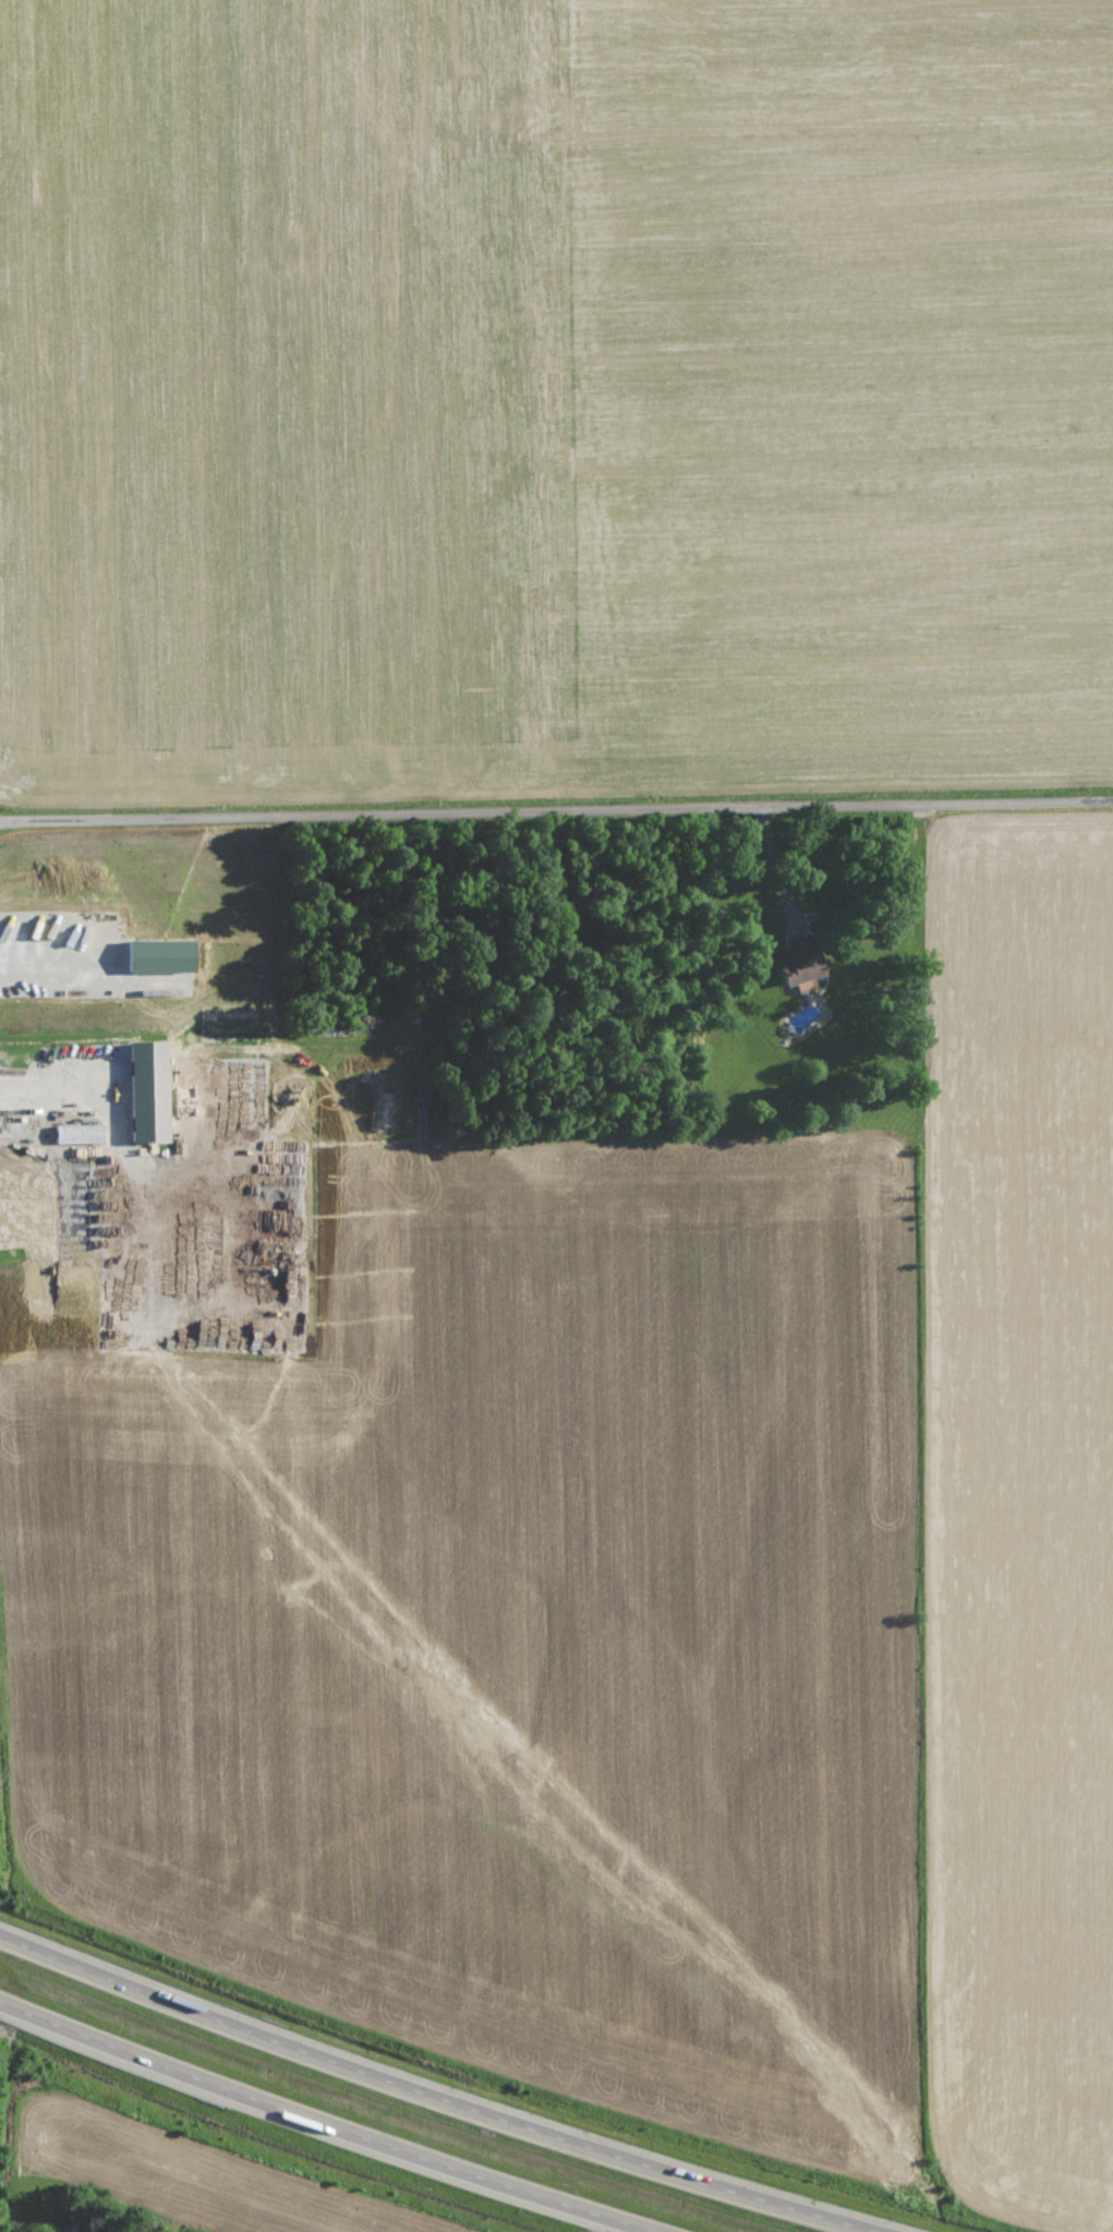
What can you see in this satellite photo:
road: (556, 803)
road: (776, 862)
building: (167, 956)
building: (156, 1091)
building: (82, 1134)
building: (14, 1206)
road: (430, 2094)
road: (318, 2126)

